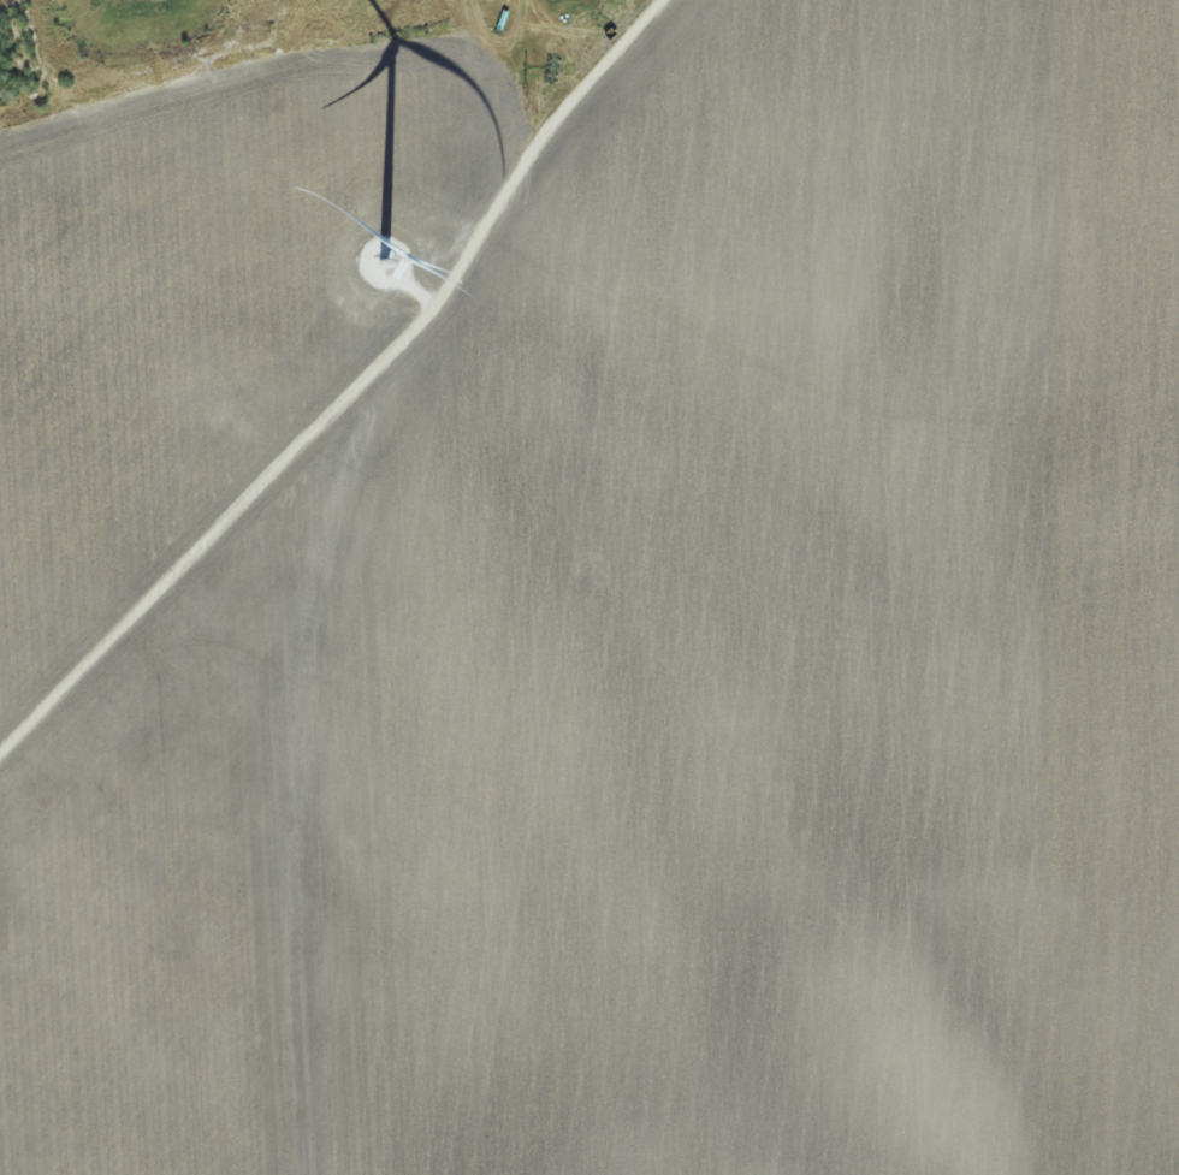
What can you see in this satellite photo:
wind turbine: (381, 251)

